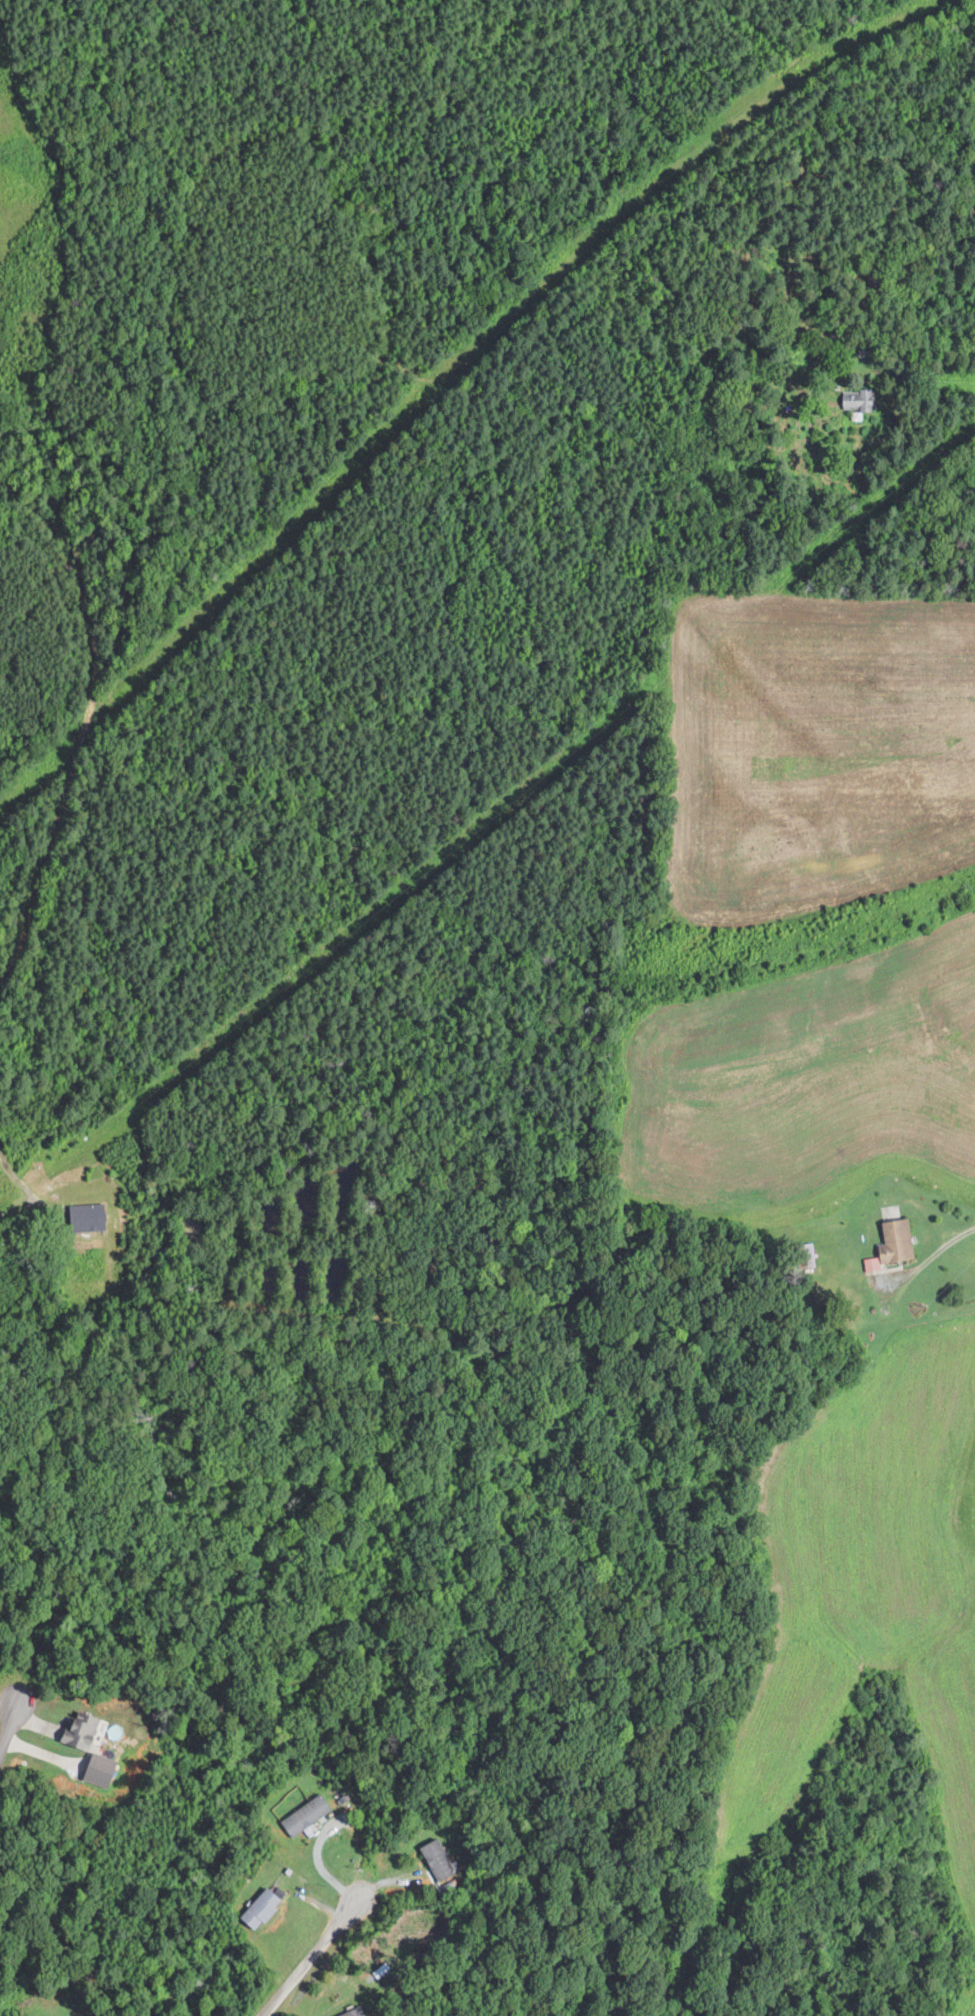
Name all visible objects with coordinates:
building: (856, 400)
road: (78, 717)
road: (17, 1180)
building: (95, 1215)
building: (888, 1244)
road: (933, 1254)
building: (804, 1255)
road: (14, 1717)
building: (85, 1730)
building: (105, 1770)
building: (308, 1814)
road: (327, 1826)
building: (437, 1859)
building: (265, 1906)
road: (308, 1956)
building: (358, 2012)

